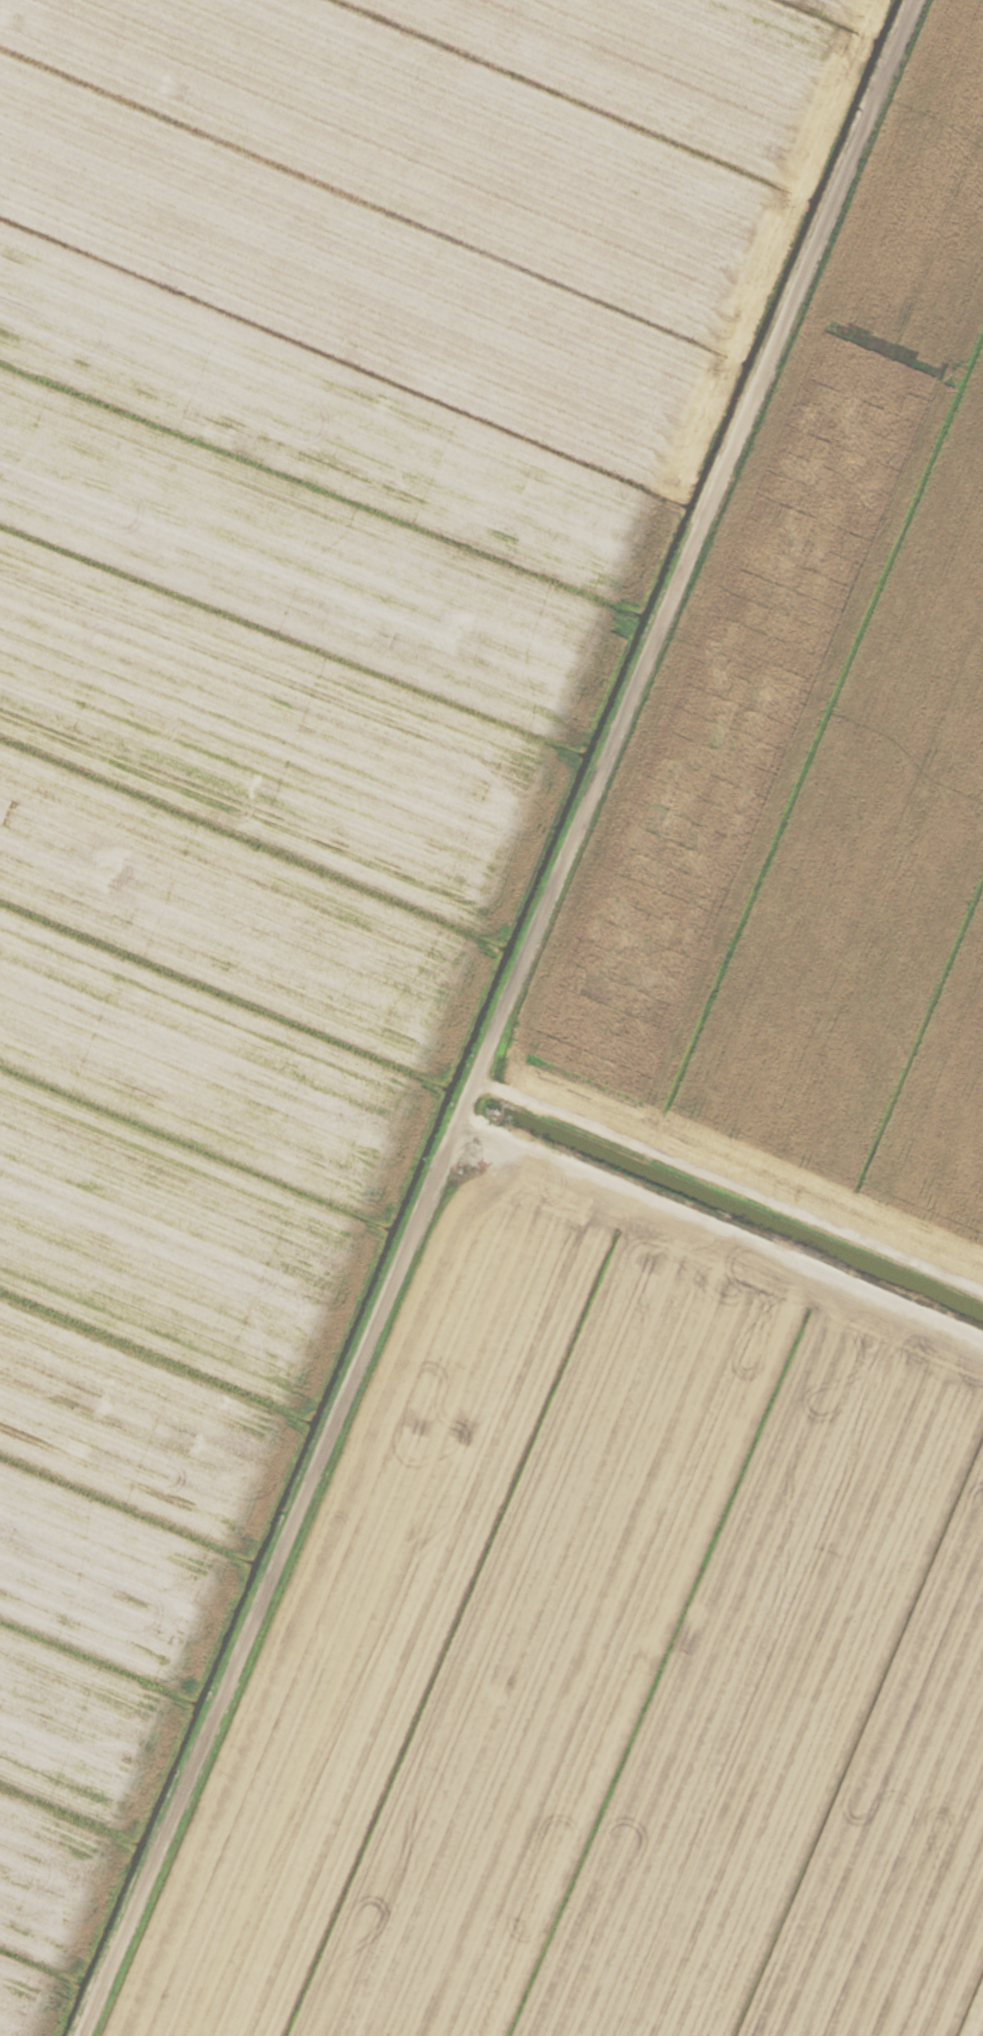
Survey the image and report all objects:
crop: (491, 1018)
road: (505, 1018)

